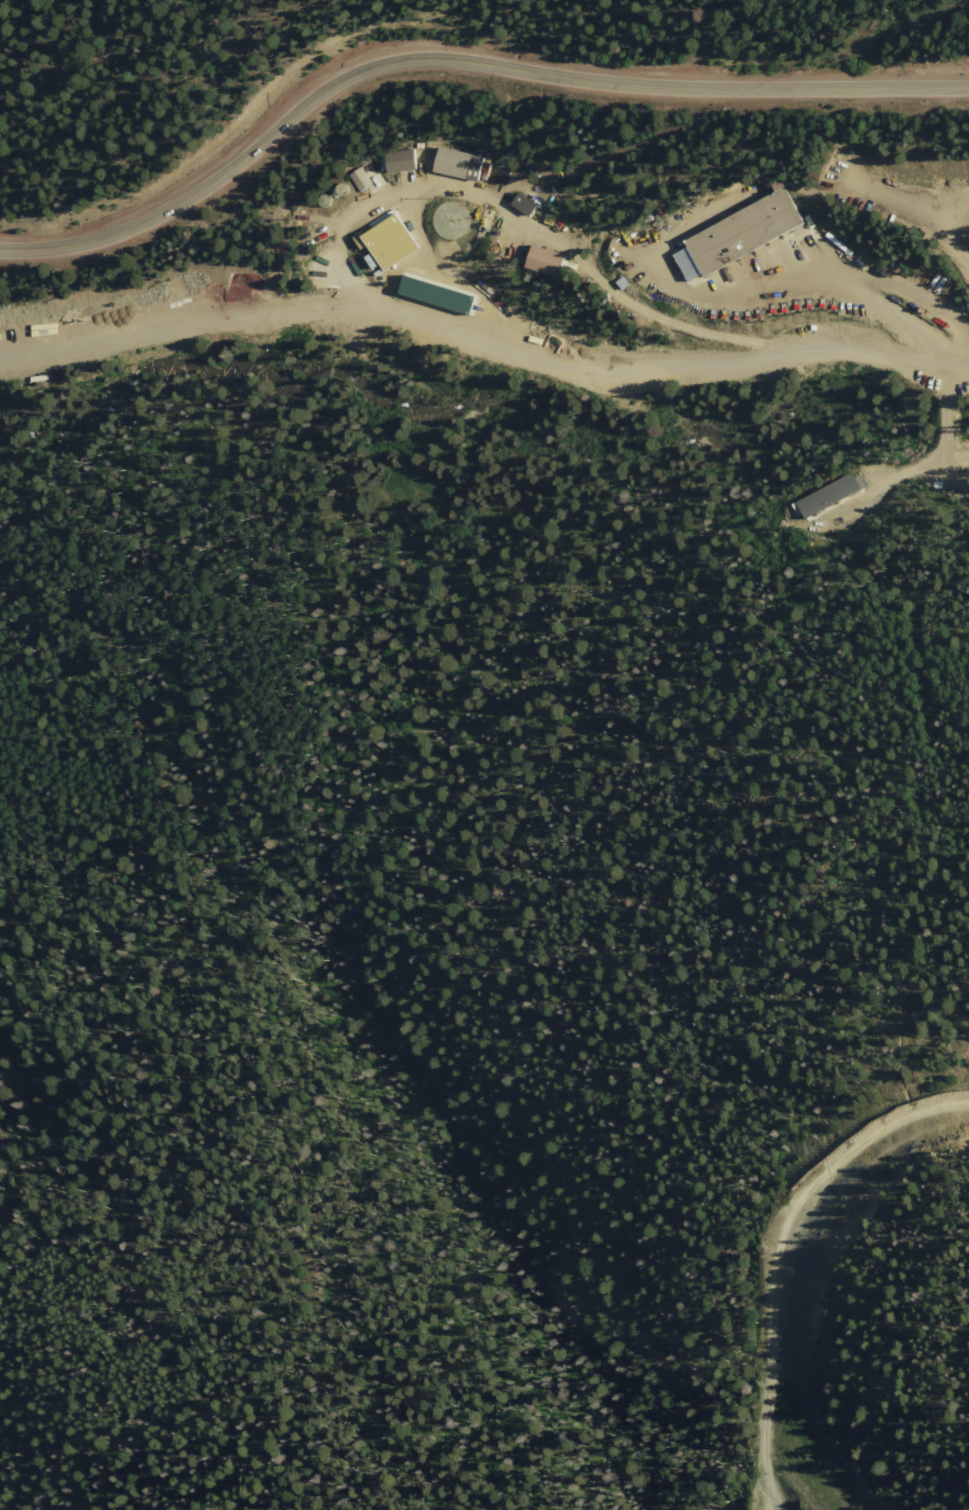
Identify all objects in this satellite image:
road: (458, 58)
building: (399, 162)
building: (457, 164)
building: (360, 180)
building: (340, 188)
storage tank: (340, 188)
building: (322, 199)
storage tank: (322, 199)
parking lot: (948, 199)
building: (523, 205)
building: (453, 221)
storage tank: (453, 221)
road: (533, 224)
building: (736, 233)
road: (950, 238)
building: (388, 243)
building: (543, 261)
road: (776, 278)
building: (440, 294)
road: (483, 332)
road: (944, 436)
building: (830, 495)
road: (780, 1255)
ski resort: (842, 1293)
road: (773, 1502)

